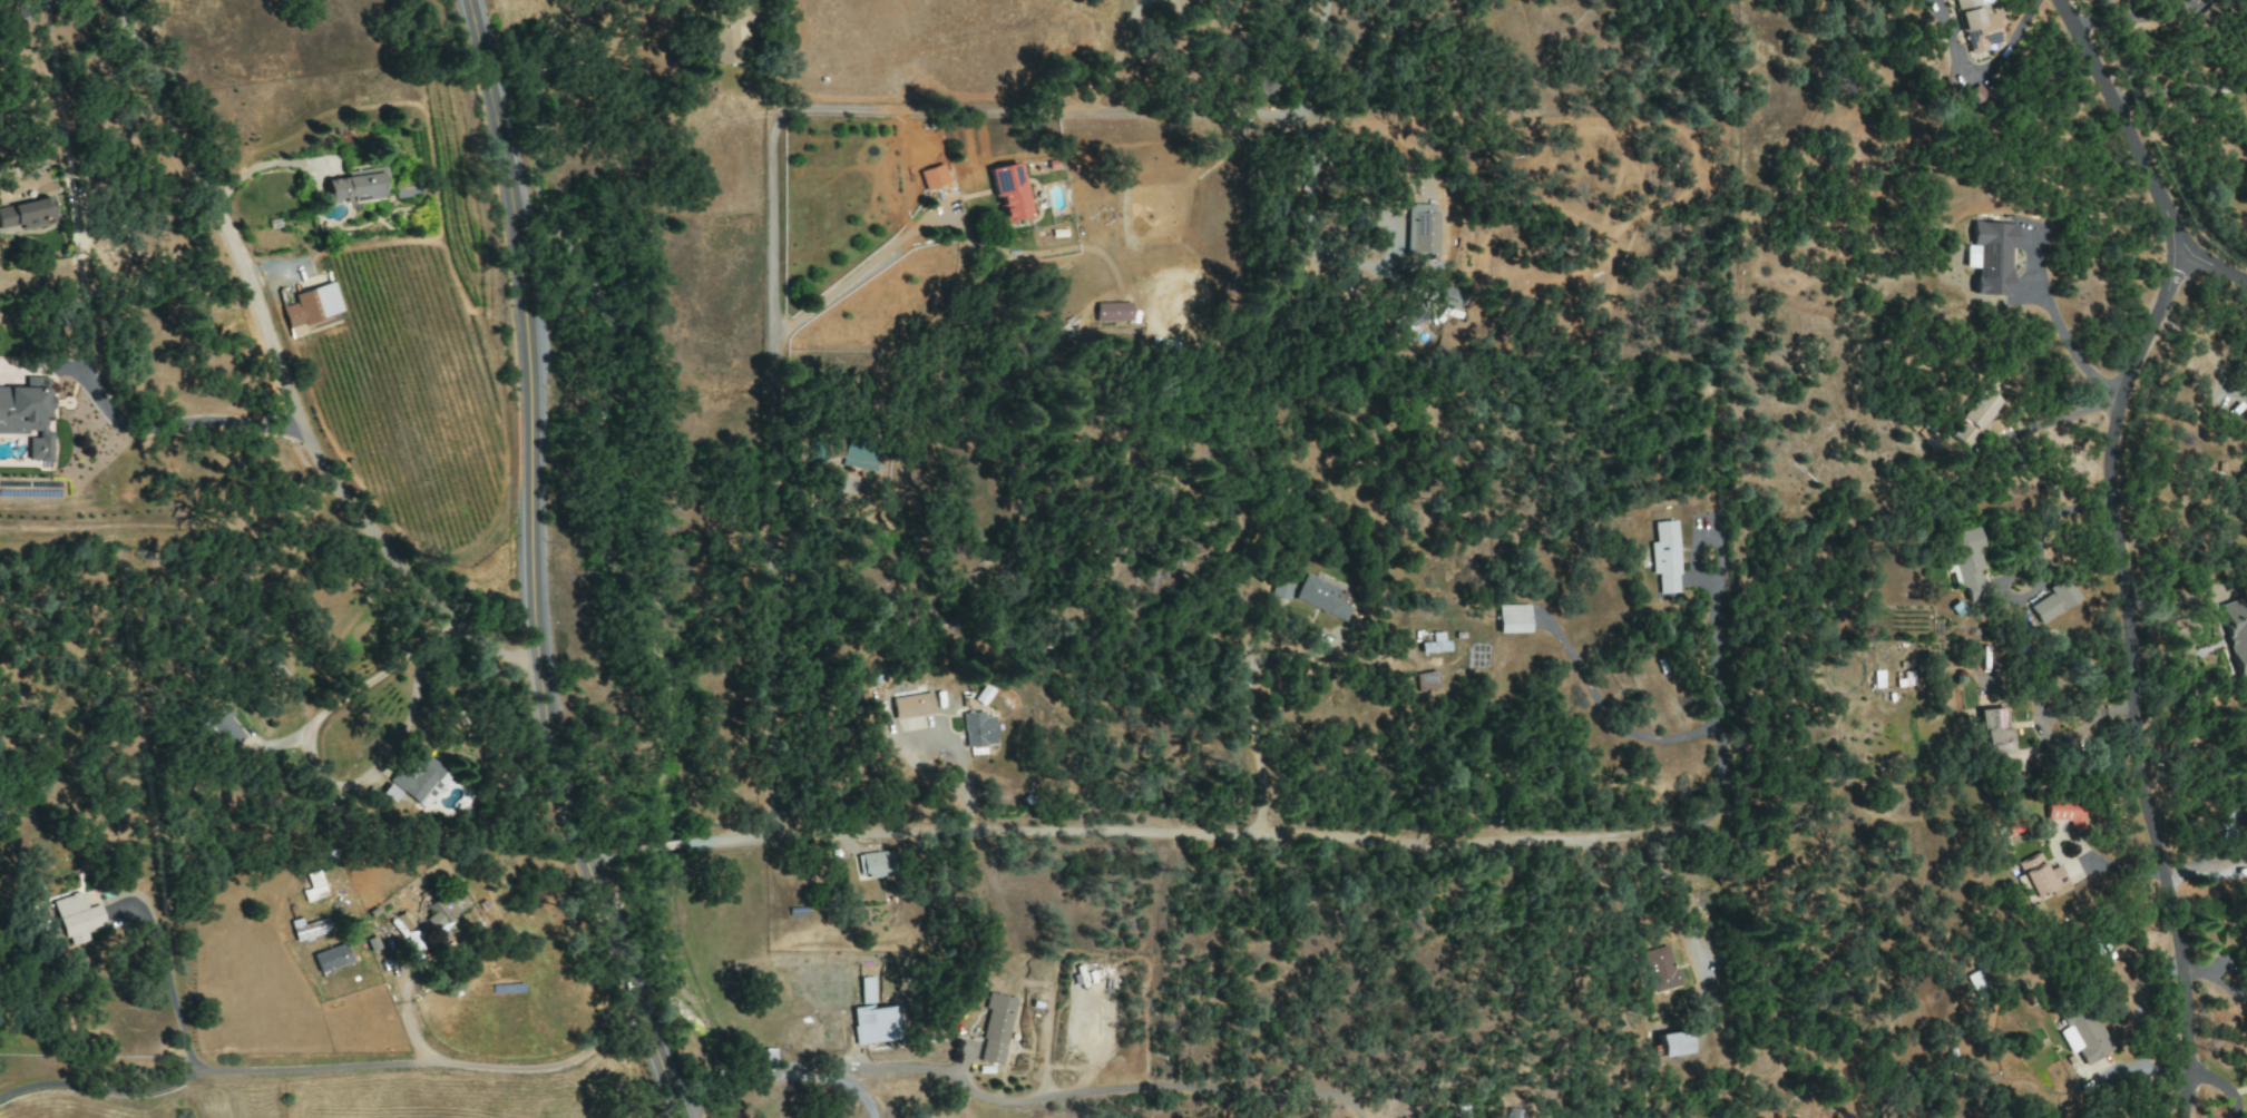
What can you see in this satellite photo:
road: (21, 10)
road: (2128, 20)
building: (2202, 20)
building: (1975, 24)
building: (730, 33)
road: (1121, 46)
road: (1155, 58)
road: (1995, 62)
road: (1309, 85)
road: (2178, 89)
road: (1090, 102)
road: (2137, 156)
building: (932, 177)
building: (356, 186)
building: (1008, 192)
road: (1310, 204)
building: (26, 214)
building: (1422, 234)
road: (781, 252)
building: (1989, 257)
road: (861, 268)
building: (311, 306)
building: (1111, 312)
road: (2065, 336)
road: (2204, 351)
road: (284, 373)
building: (28, 415)
building: (1972, 418)
road: (2061, 420)
road: (175, 423)
building: (852, 453)
road: (2049, 520)
building: (1664, 557)
building: (1967, 562)
road: (537, 567)
building: (1280, 588)
building: (1321, 597)
building: (2053, 600)
building: (1512, 618)
building: (2237, 629)
building: (1434, 644)
road: (1718, 644)
road: (2136, 676)
building: (1425, 681)
road: (2025, 686)
building: (1950, 702)
road: (335, 704)
building: (910, 706)
road: (2053, 715)
road: (1256, 716)
building: (225, 726)
building: (976, 729)
building: (1993, 730)
building: (420, 778)
building: (390, 793)
building: (2065, 811)
road: (1195, 843)
building: (875, 864)
building: (2041, 877)
building: (313, 887)
road: (1680, 898)
building: (443, 908)
building: (76, 918)
building: (309, 929)
building: (330, 958)
building: (1659, 970)
road: (166, 975)
building: (867, 990)
building: (876, 1024)
building: (995, 1028)
building: (2082, 1034)
building: (1673, 1043)
road: (431, 1068)
road: (812, 1072)
road: (99, 1085)
road: (1155, 1085)
road: (2219, 1086)
road: (860, 1092)
building: (1511, 1114)

